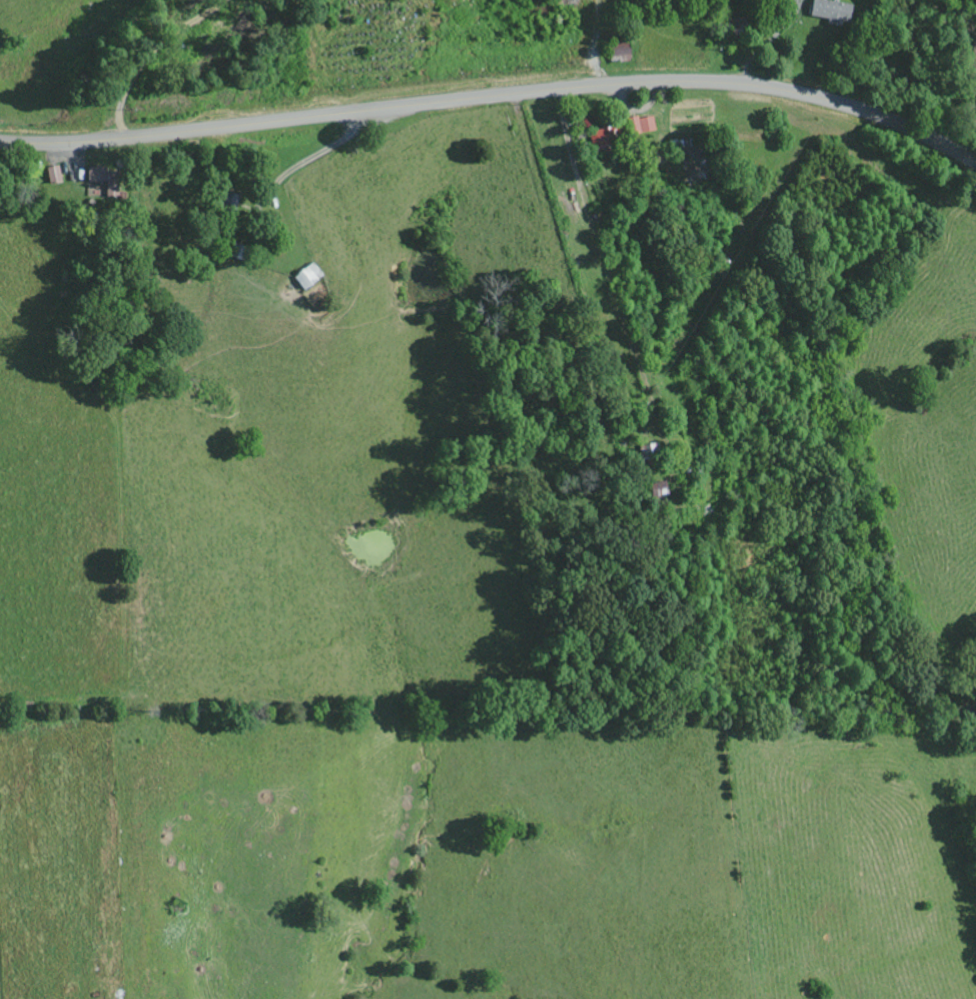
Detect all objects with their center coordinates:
building: (828, 13)
road: (767, 42)
building: (616, 51)
road: (160, 53)
road: (494, 94)
building: (639, 127)
road: (305, 160)
building: (50, 177)
building: (101, 182)
road: (597, 238)
building: (306, 278)
building: (656, 492)

